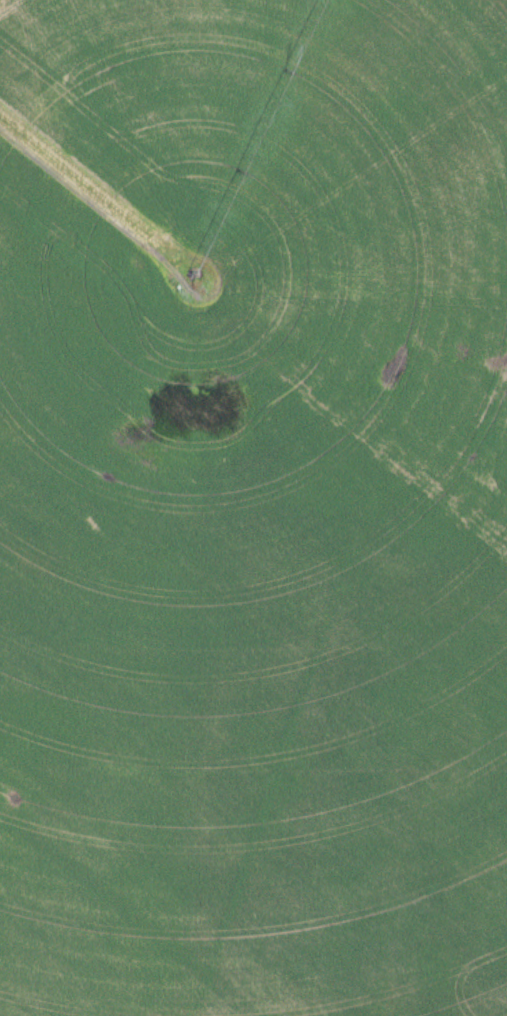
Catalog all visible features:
wastewater plant: (253, 508)

